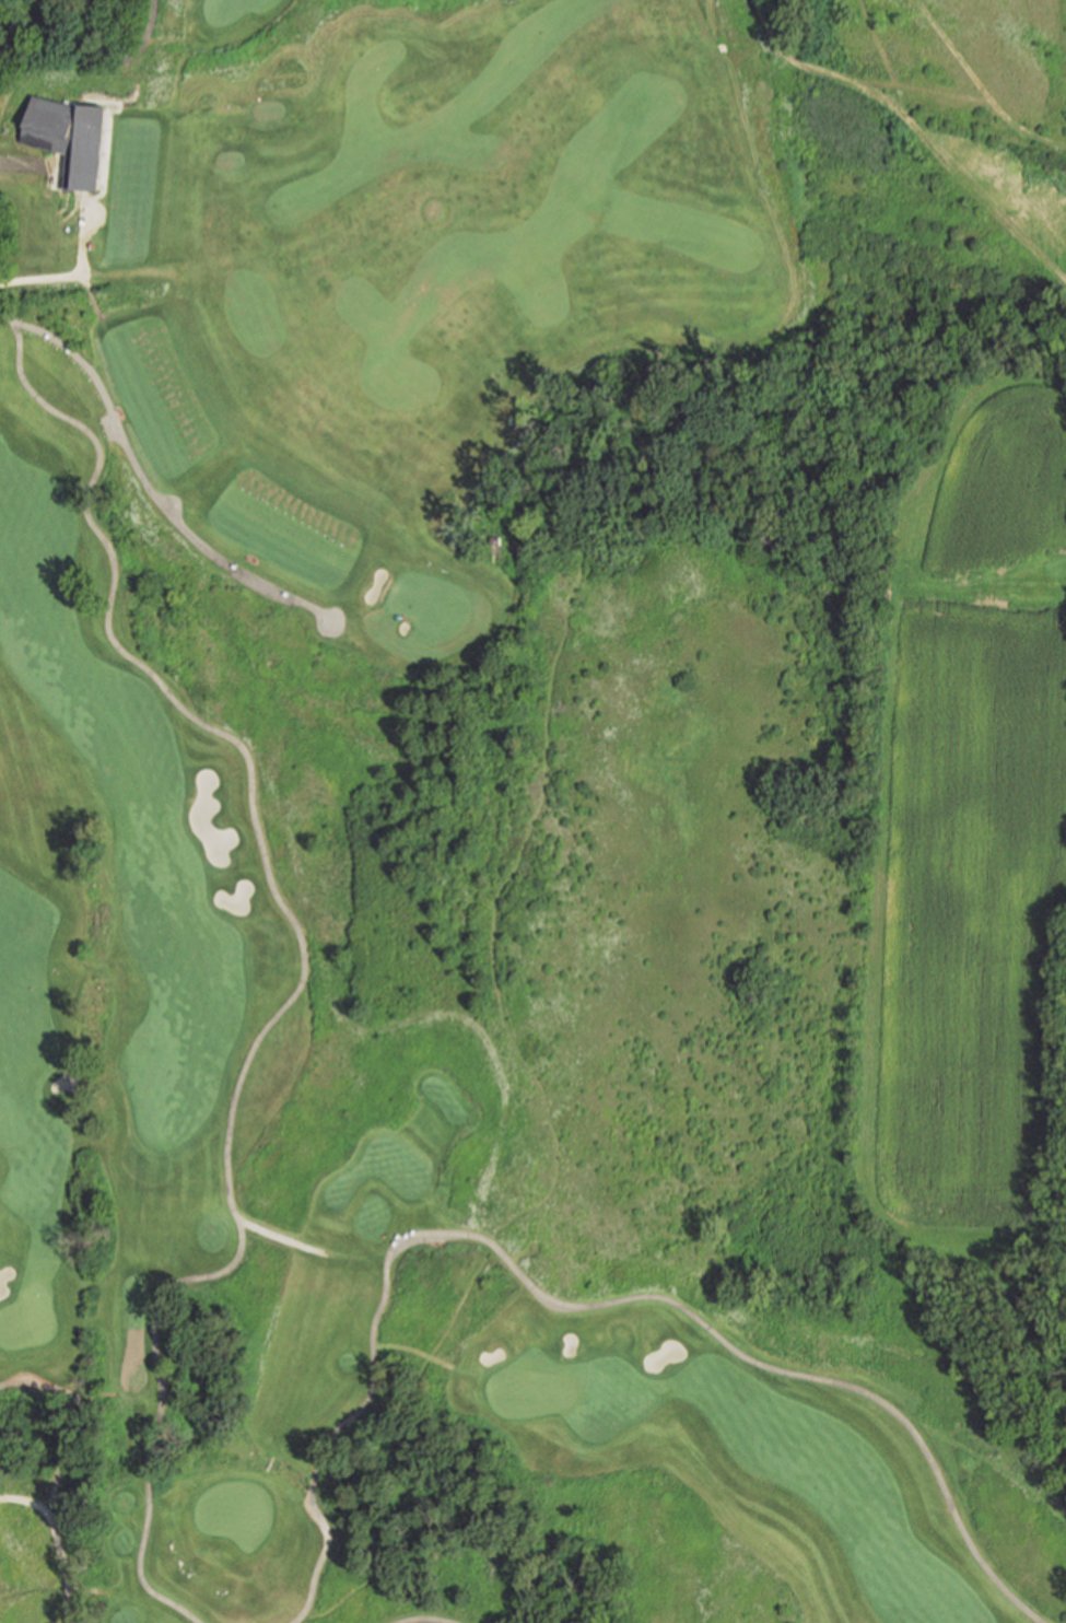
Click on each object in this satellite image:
road: (10, 8)
road: (147, 21)
building: (66, 139)
road: (12, 166)
road: (72, 272)
road: (144, 484)
park: (424, 605)
park: (532, 811)
road: (503, 867)
road: (266, 871)
road: (644, 1296)
road: (148, 1462)
road: (59, 1467)
road: (311, 1486)
road: (318, 1560)
road: (141, 1562)
road: (102, 1566)
road: (424, 1618)

